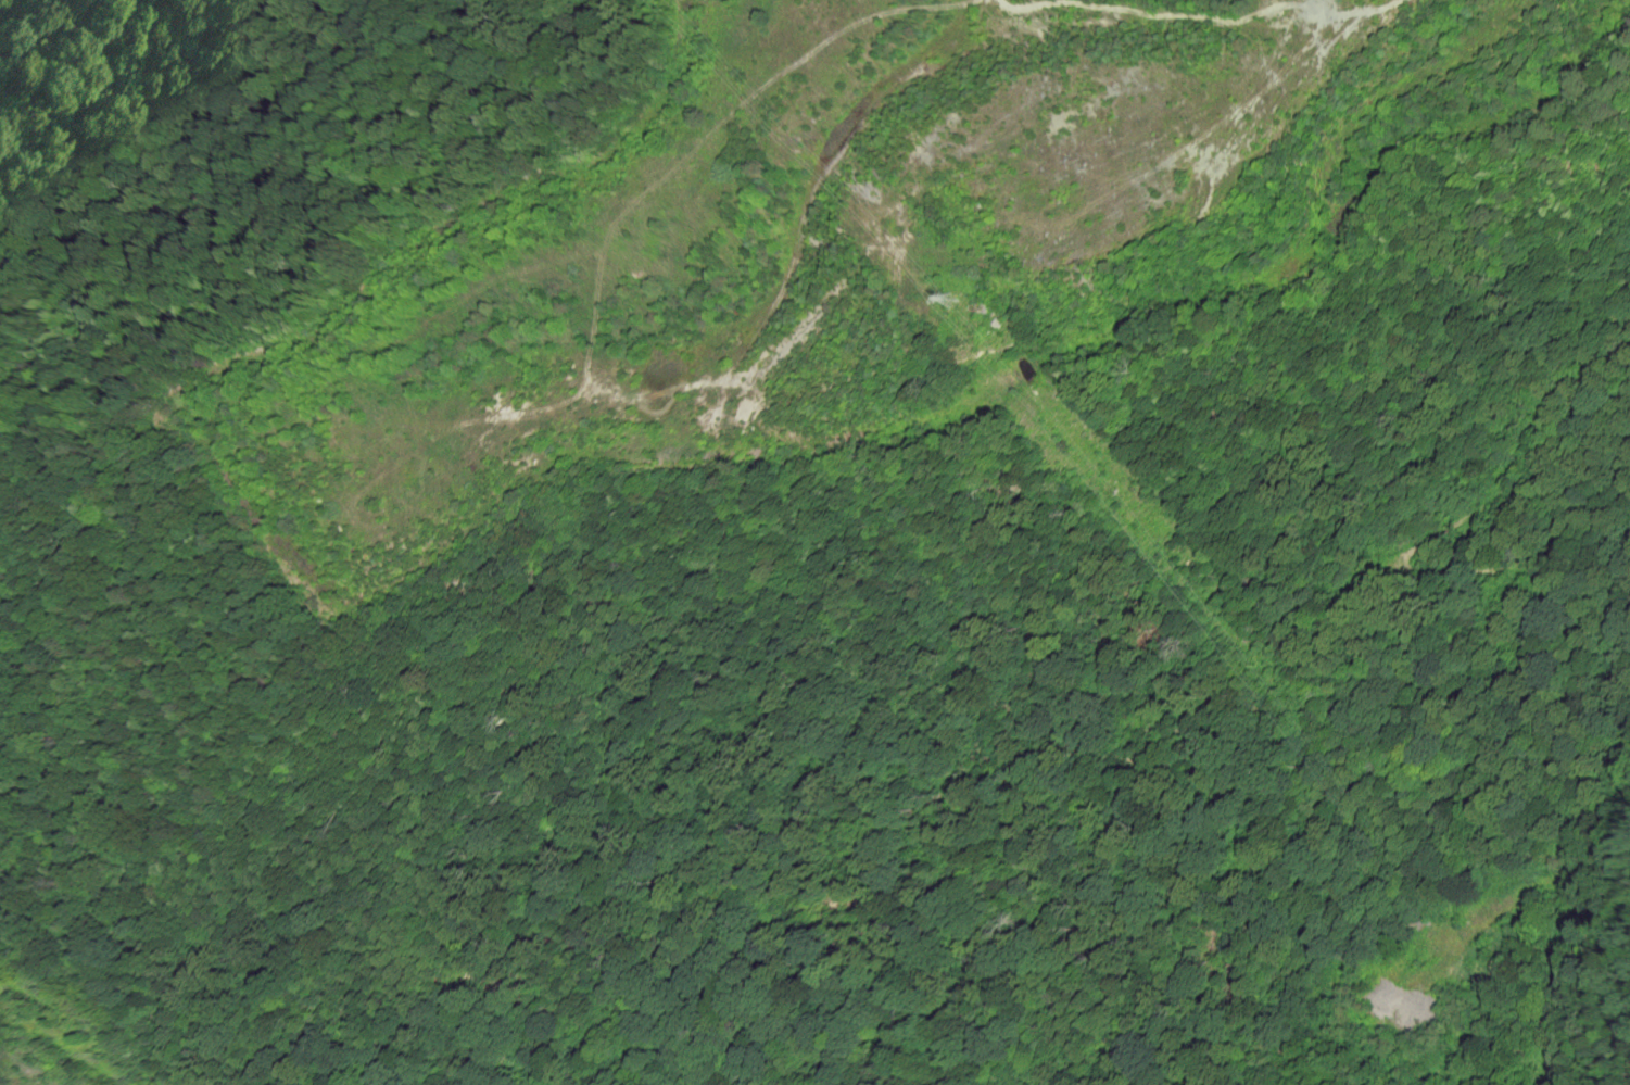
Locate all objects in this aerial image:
power tower: (952, 298)
road: (1550, 881)

